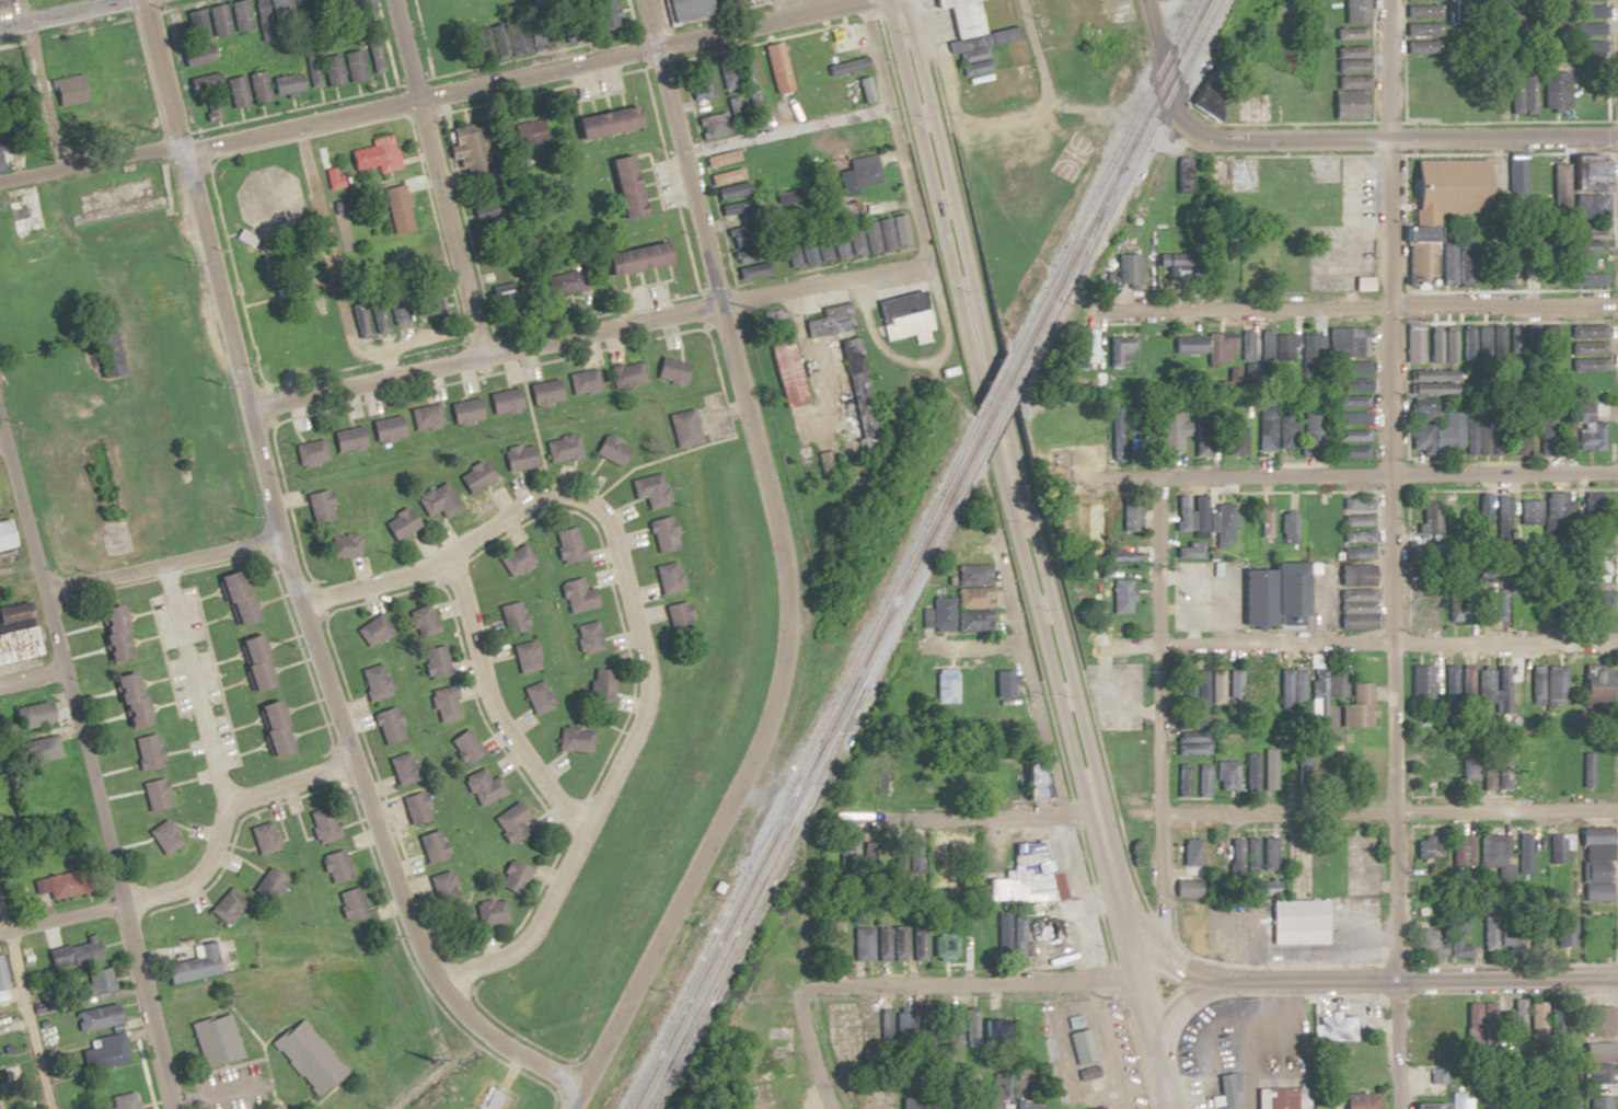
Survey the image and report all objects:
building: (322, 0)
building: (7, 3)
building: (357, 4)
building: (1563, 8)
building: (1588, 9)
building: (284, 10)
building: (683, 10)
road: (63, 13)
building: (602, 13)
building: (239, 15)
building: (960, 15)
building: (217, 20)
building: (195, 25)
building: (1421, 25)
road: (1152, 39)
building: (479, 42)
building: (78, 47)
railway: (1191, 47)
road: (1031, 53)
building: (195, 56)
building: (372, 57)
building: (49, 58)
building: (1351, 60)
building: (351, 66)
building: (776, 67)
building: (742, 68)
building: (330, 70)
building: (724, 74)
road: (515, 78)
building: (200, 83)
building: (697, 83)
building: (285, 84)
road: (38, 85)
building: (256, 86)
building: (60, 89)
building: (851, 91)
building: (1553, 91)
building: (235, 92)
building: (1521, 94)
building: (733, 102)
building: (754, 105)
building: (1251, 106)
building: (602, 123)
building: (710, 125)
road: (791, 128)
building: (527, 134)
road: (1376, 137)
building: (467, 149)
building: (383, 154)
park: (1070, 155)
building: (720, 158)
road: (89, 164)
building: (857, 173)
building: (1515, 174)
building: (726, 176)
railway: (1102, 176)
building: (1585, 176)
road: (440, 177)
building: (331, 178)
railway: (1109, 184)
building: (621, 186)
building: (1558, 190)
building: (727, 192)
railway: (1113, 197)
building: (1437, 206)
building: (1588, 207)
building: (396, 210)
building: (31, 215)
building: (1585, 229)
road: (322, 230)
railway: (1090, 232)
building: (874, 235)
building: (242, 238)
building: (1583, 245)
building: (806, 254)
building: (632, 259)
building: (1456, 259)
building: (1128, 270)
building: (1585, 279)
building: (565, 284)
road: (1365, 307)
building: (902, 315)
building: (375, 319)
building: (358, 322)
building: (828, 322)
road: (606, 327)
railway: (1042, 337)
building: (1586, 339)
building: (1546, 342)
building: (1345, 343)
building: (1188, 344)
building: (1472, 344)
building: (1245, 345)
building: (1499, 345)
building: (1087, 346)
building: (1412, 346)
building: (1274, 347)
building: (1441, 347)
building: (1220, 348)
building: (1121, 350)
building: (1310, 350)
building: (1586, 365)
building: (669, 371)
building: (785, 373)
building: (854, 373)
building: (625, 376)
building: (582, 382)
building: (1431, 382)
railway: (992, 391)
building: (543, 392)
building: (501, 402)
railway: (996, 405)
building: (1351, 411)
building: (463, 412)
building: (424, 417)
railway: (1002, 417)
building: (1274, 428)
building: (385, 429)
building: (682, 429)
building: (1585, 429)
building: (1310, 431)
building: (1116, 435)
building: (1546, 435)
road: (1, 436)
building: (1434, 437)
building: (1517, 437)
building: (1177, 438)
building: (1478, 438)
building: (346, 440)
building: (1233, 441)
building: (1051, 444)
building: (560, 448)
building: (610, 450)
building: (1200, 450)
building: (309, 453)
building: (516, 458)
road: (1344, 476)
building: (471, 480)
building: (648, 490)
road: (267, 501)
building: (435, 501)
building: (1356, 505)
building: (317, 507)
building: (1553, 512)
building: (1478, 513)
building: (1189, 516)
building: (1502, 516)
building: (1129, 517)
building: (1527, 517)
building: (1429, 519)
building: (1356, 521)
building: (1110, 522)
building: (1221, 522)
building: (1263, 522)
building: (398, 524)
building: (1286, 525)
building: (1330, 527)
building: (660, 534)
building: (9, 535)
building: (1356, 536)
building: (343, 546)
building: (565, 546)
building: (967, 552)
building: (1189, 552)
building: (1356, 552)
road: (1019, 553)
road: (1040, 553)
road: (1390, 554)
building: (1120, 556)
building: (513, 562)
road: (159, 566)
road: (781, 568)
building: (1591, 571)
building: (970, 575)
building: (1354, 576)
building: (667, 578)
building: (1288, 593)
building: (575, 597)
building: (1120, 597)
building: (233, 598)
building: (970, 598)
building: (1354, 602)
building: (1592, 604)
building: (1498, 607)
building: (943, 613)
building: (510, 617)
road: (631, 617)
building: (677, 621)
building: (421, 622)
building: (970, 622)
building: (371, 631)
building: (111, 633)
building: (586, 638)
road: (1309, 643)
railway: (859, 646)
building: (39, 647)
building: (524, 658)
building: (252, 662)
building: (432, 662)
road: (30, 677)
building: (373, 682)
building: (1512, 682)
road: (198, 683)
building: (1419, 683)
building: (1446, 683)
building: (1002, 684)
building: (1464, 684)
building: (599, 685)
building: (946, 685)
building: (1263, 685)
building: (1483, 685)
building: (1592, 685)
building: (1233, 686)
building: (1290, 689)
building: (1534, 689)
building: (1201, 690)
building: (1248, 690)
building: (1321, 690)
building: (1552, 690)
building: (974, 692)
building: (536, 697)
road: (1152, 697)
building: (127, 700)
building: (442, 705)
road: (492, 705)
building: (1356, 707)
building: (30, 716)
building: (386, 726)
building: (271, 728)
building: (1188, 737)
building: (573, 740)
building: (462, 747)
building: (37, 749)
building: (147, 752)
road: (84, 767)
building: (1466, 767)
building: (401, 769)
building: (1585, 771)
building: (1366, 772)
building: (1483, 774)
railway: (805, 775)
building: (1225, 775)
building: (1181, 781)
building: (1201, 781)
building: (1030, 782)
railway: (811, 783)
building: (481, 787)
building: (154, 794)
railway: (784, 802)
building: (414, 808)
road: (1265, 812)
building: (508, 822)
road: (222, 824)
building: (321, 824)
building: (163, 836)
building: (262, 839)
building: (429, 846)
building: (1423, 850)
building: (1553, 850)
building: (1459, 851)
building: (1492, 852)
building: (1233, 854)
building: (1248, 854)
building: (1267, 854)
building: (1187, 855)
building: (931, 857)
building: (1593, 864)
building: (333, 866)
building: (510, 877)
building: (1029, 882)
building: (265, 885)
building: (66, 886)
building: (1183, 887)
building: (1261, 887)
building: (441, 888)
building: (348, 903)
railway: (758, 903)
building: (223, 906)
building: (487, 912)
road: (58, 919)
building: (1295, 922)
building: (1562, 931)
building: (1014, 936)
building: (1454, 936)
building: (1498, 937)
building: (888, 943)
building: (915, 943)
building: (1426, 943)
building: (860, 944)
building: (943, 946)
building: (76, 952)
building: (193, 966)
building: (1, 971)
road: (1357, 980)
road: (976, 983)
building: (92, 985)
railway: (682, 985)
road: (25, 1008)
building: (1535, 1016)
building: (95, 1017)
building: (1476, 1017)
building: (1555, 1018)
building: (1507, 1020)
road: (1172, 1021)
building: (1428, 1021)
building: (1449, 1021)
building: (949, 1026)
building: (967, 1026)
building: (1333, 1028)
building: (989, 1029)
building: (1594, 1032)
building: (213, 1040)
building: (1078, 1047)
road: (505, 1049)
road: (809, 1050)
building: (102, 1053)
building: (305, 1056)
building: (1594, 1073)
building: (1224, 1089)
building: (985, 1097)
building: (1278, 1097)
building: (1558, 1099)
building: (1359, 1100)
building: (122, 1101)
building: (1594, 1101)
building: (910, 1102)
building: (948, 1104)
building: (1458, 1104)
building: (1025, 1105)
building: (1422, 1105)
building: (1094, 1107)
building: (273, 1108)

